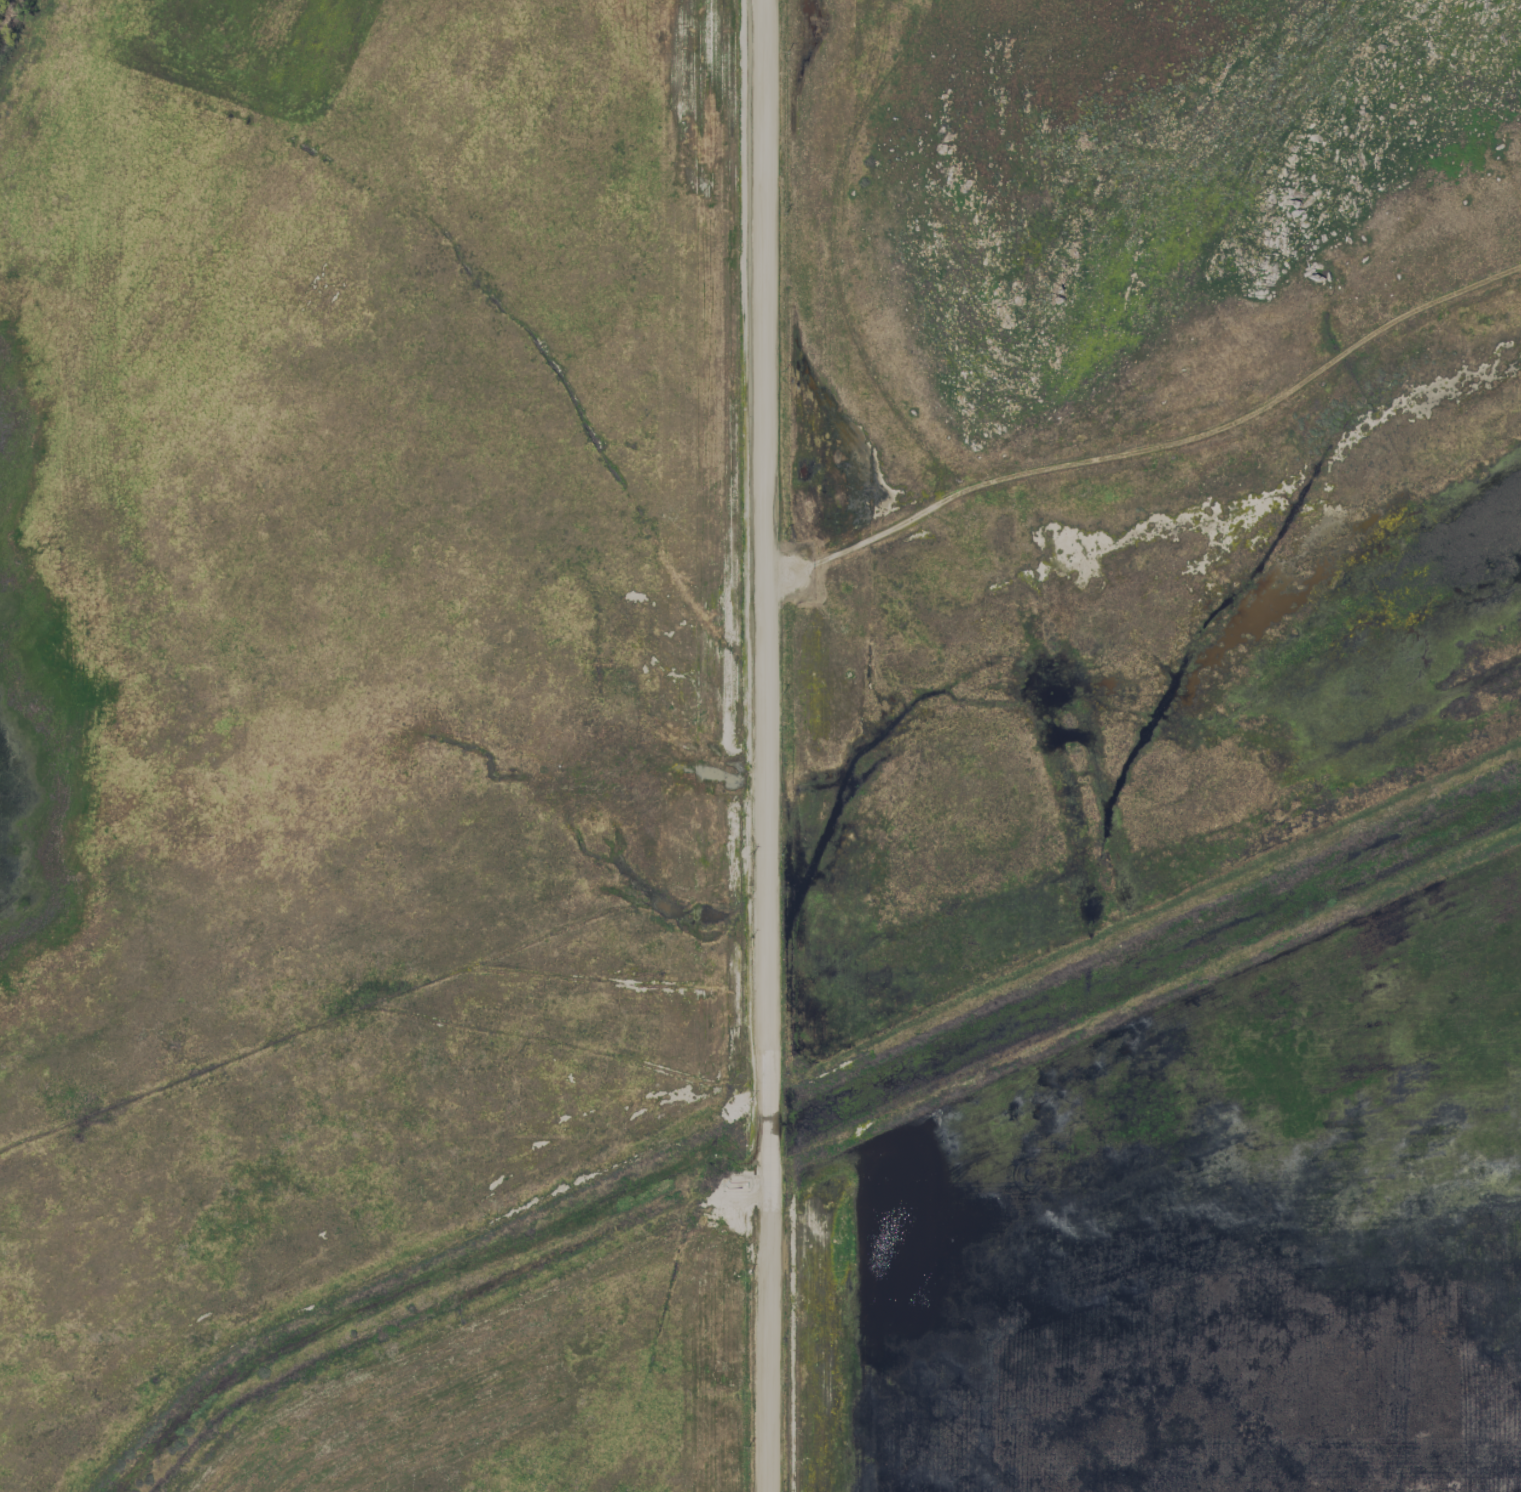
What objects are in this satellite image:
road: (1132, 419)
road: (763, 528)
river: (803, 1126)
road: (765, 1130)
road: (768, 1347)

